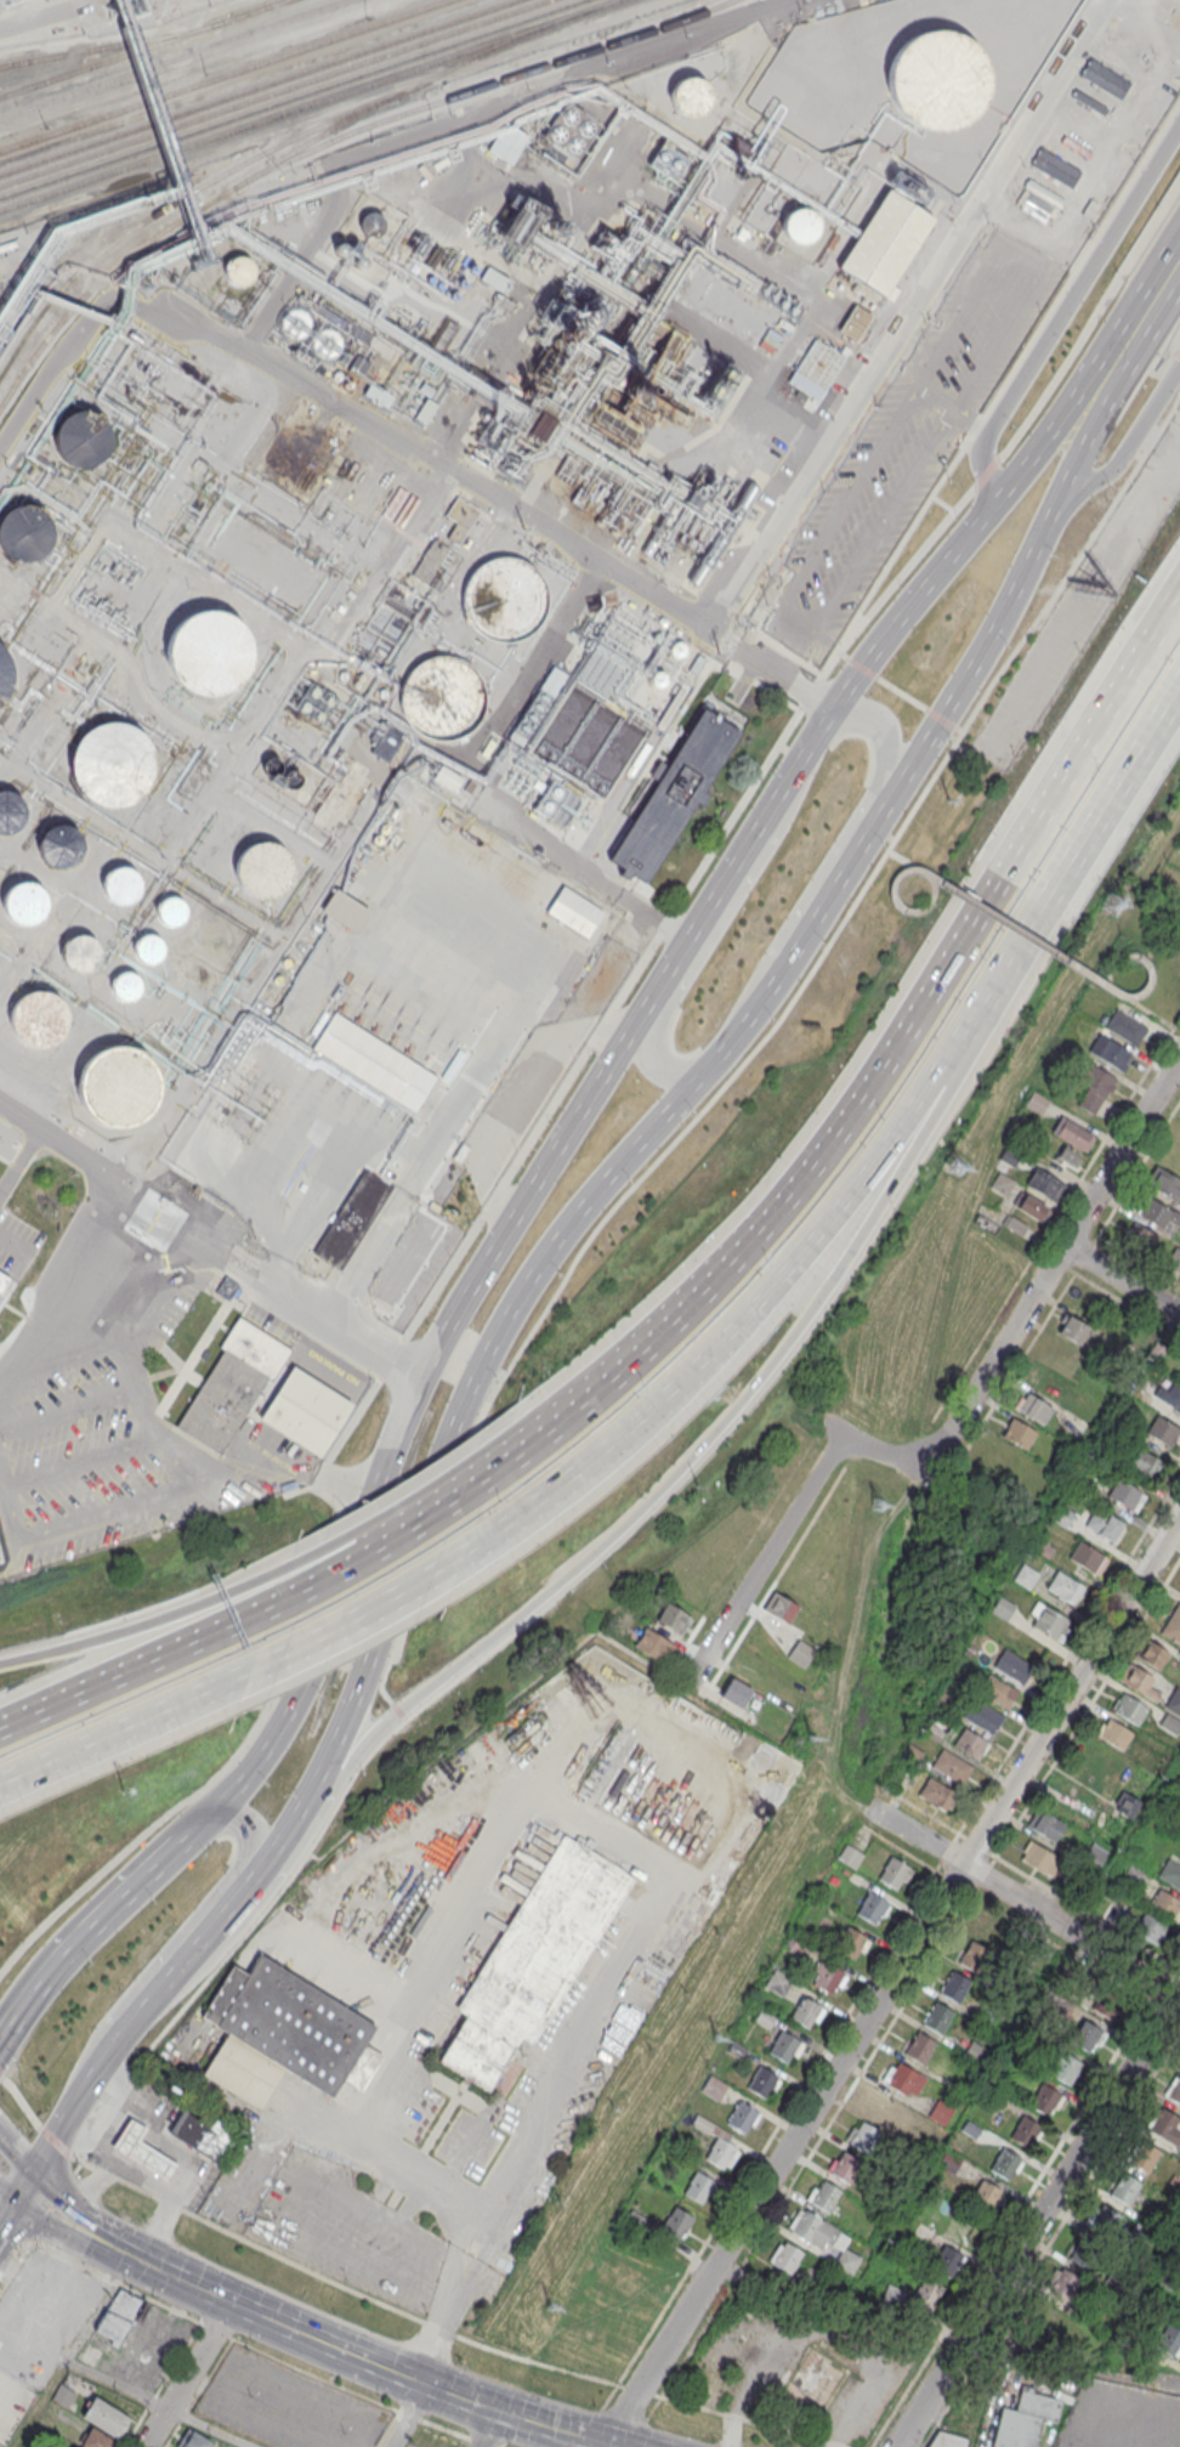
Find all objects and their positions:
building: (1153, 11)
railway: (110, 45)
railway: (141, 47)
railway: (571, 57)
railway: (174, 58)
railway: (15, 62)
railway: (220, 74)
building: (1105, 79)
building: (938, 80)
storage tank: (938, 80)
railway: (255, 86)
railway: (271, 91)
building: (691, 96)
storage tank: (691, 96)
railway: (290, 98)
railway: (310, 104)
building: (571, 128)
railway: (268, 148)
building: (668, 159)
building: (1055, 165)
road: (1016, 217)
building: (370, 223)
storage tank: (370, 223)
building: (798, 223)
storage tank: (798, 223)
railway: (169, 226)
railway: (117, 237)
building: (884, 240)
building: (472, 267)
building: (238, 271)
storage tank: (238, 271)
building: (494, 278)
building: (74, 290)
power tower: (143, 291)
road: (1061, 305)
road: (907, 316)
building: (853, 322)
building: (294, 323)
storage tank: (294, 323)
building: (327, 341)
storage tank: (327, 341)
road: (1123, 346)
building: (819, 363)
building: (376, 395)
building: (424, 409)
road: (951, 410)
building: (81, 436)
storage tank: (81, 436)
road: (1125, 447)
road: (903, 489)
road: (499, 503)
building: (460, 514)
building: (24, 531)
storage tank: (24, 531)
power tower: (516, 531)
building: (429, 561)
building: (503, 597)
storage tank: (503, 597)
building: (206, 651)
storage tank: (206, 651)
power tower: (720, 655)
building: (4, 672)
storage tank: (4, 672)
building: (444, 697)
storage tank: (444, 697)
building: (387, 742)
building: (110, 763)
storage tank: (110, 763)
building: (670, 797)
power tower: (948, 797)
building: (10, 810)
storage tank: (10, 810)
building: (59, 846)
storage tank: (59, 846)
road: (836, 848)
road: (907, 860)
building: (260, 868)
storage tank: (260, 868)
road: (596, 878)
road: (1062, 882)
building: (118, 885)
storage tank: (118, 885)
building: (22, 902)
storage tank: (22, 902)
road: (978, 906)
power tower: (1112, 907)
building: (345, 910)
building: (171, 911)
storage tank: (171, 911)
building: (572, 911)
road: (714, 930)
building: (1178, 933)
road: (1021, 938)
building: (147, 947)
storage tank: (147, 947)
building: (79, 952)
storage tank: (79, 952)
building: (126, 985)
storage tank: (126, 985)
road: (1145, 1009)
building: (36, 1018)
storage tank: (36, 1018)
building: (1128, 1026)
building: (1113, 1052)
building: (371, 1061)
building: (117, 1086)
storage tank: (117, 1086)
building: (1096, 1089)
road: (924, 1097)
road: (683, 1101)
building: (1038, 1103)
road: (577, 1114)
building: (1074, 1133)
power tower: (960, 1167)
building: (1045, 1183)
building: (1163, 1185)
building: (1031, 1206)
building: (351, 1219)
building: (1140, 1237)
road: (208, 1241)
building: (1173, 1259)
road: (1053, 1263)
road: (1123, 1279)
road: (66, 1282)
building: (227, 1287)
road: (751, 1309)
building: (1074, 1329)
road: (629, 1352)
building: (1179, 1378)
road: (135, 1382)
building: (232, 1382)
building: (1169, 1397)
building: (1033, 1407)
building: (305, 1410)
road: (69, 1411)
building: (1163, 1432)
building: (1019, 1433)
road: (877, 1449)
road: (84, 1462)
road: (685, 1463)
building: (1142, 1463)
road: (317, 1488)
building: (1125, 1495)
road: (10, 1506)
power tower: (878, 1508)
road: (112, 1513)
road: (522, 1513)
building: (1060, 1514)
building: (1104, 1525)
road: (371, 1526)
road: (385, 1528)
road: (1020, 1545)
building: (0, 1557)
building: (1088, 1559)
building: (0, 1560)
road: (758, 1569)
building: (1026, 1577)
building: (1063, 1588)
road: (306, 1605)
building: (779, 1605)
building: (1002, 1609)
road: (358, 1613)
building: (674, 1618)
building: (1048, 1622)
building: (1173, 1625)
road: (129, 1626)
building: (653, 1646)
road: (140, 1648)
building: (802, 1653)
building: (1152, 1654)
building: (1011, 1666)
building: (1140, 1682)
building: (736, 1690)
building: (998, 1692)
building: (1174, 1701)
building: (1129, 1709)
building: (982, 1716)
building: (938, 1727)
road: (125, 1728)
building: (1114, 1734)
power tower: (812, 1739)
building: (969, 1743)
building: (951, 1766)
road: (523, 1788)
building: (936, 1792)
building: (1125, 1806)
building: (1046, 1826)
road: (138, 1839)
road: (1125, 1845)
building: (850, 1856)
road: (271, 1857)
building: (1044, 1860)
building: (893, 1873)
building: (1170, 1873)
road: (1020, 1901)
building: (1165, 1904)
building: (873, 1908)
building: (991, 1925)
building: (1150, 1928)
road: (85, 1936)
road: (180, 1936)
building: (850, 1942)
building: (971, 1955)
building: (532, 1959)
building: (827, 1977)
road: (892, 1977)
building: (778, 1982)
building: (954, 1987)
building: (1106, 2000)
building: (806, 2012)
building: (937, 2017)
building: (1085, 2034)
building: (287, 2035)
power tower: (716, 2041)
building: (785, 2046)
building: (918, 2046)
road: (120, 2047)
building: (1065, 2067)
building: (903, 2079)
building: (762, 2081)
building: (713, 2086)
building: (1174, 2089)
building: (1045, 2100)
building: (883, 2107)
building: (941, 2112)
building: (742, 2117)
building: (1165, 2128)
building: (1025, 2131)
building: (204, 2132)
building: (862, 2136)
building: (717, 2143)
road: (19, 2147)
building: (141, 2149)
road: (182, 2156)
building: (1144, 2156)
road: (112, 2162)
building: (948, 2162)
building: (1005, 2163)
traffic signals: (41, 2166)
building: (845, 2166)
road: (144, 2181)
road: (30, 2187)
building: (698, 2187)
building: (1124, 2188)
building: (987, 2194)
building: (824, 2196)
road: (10, 2198)
road: (72, 2200)
traffic signals: (21, 2208)
road: (1038, 2217)
road: (59, 2221)
building: (1105, 2221)
building: (677, 2222)
road: (10, 2224)
building: (521, 2224)
parking lot: (347, 2232)
building: (824, 2238)
road: (259, 2247)
road: (456, 2253)
building: (1087, 2253)
building: (785, 2259)
building: (947, 2261)
road: (480, 2264)
road: (13, 2265)
building: (1065, 2284)
building: (927, 2294)
power tower: (546, 2307)
road: (448, 2309)
building: (1178, 2309)
building: (119, 2316)
building: (33, 2318)
road: (819, 2334)
building: (1168, 2340)
road: (427, 2353)
road: (356, 2355)
road: (187, 2374)
road: (115, 2381)
road: (636, 2390)
building: (64, 2396)
parking lot: (287, 2404)
road: (410, 2415)
building: (107, 2418)
building: (1025, 2418)
road: (490, 2428)
building: (4, 2437)
building: (95, 2440)
building: (193, 2440)
building: (948, 2440)

